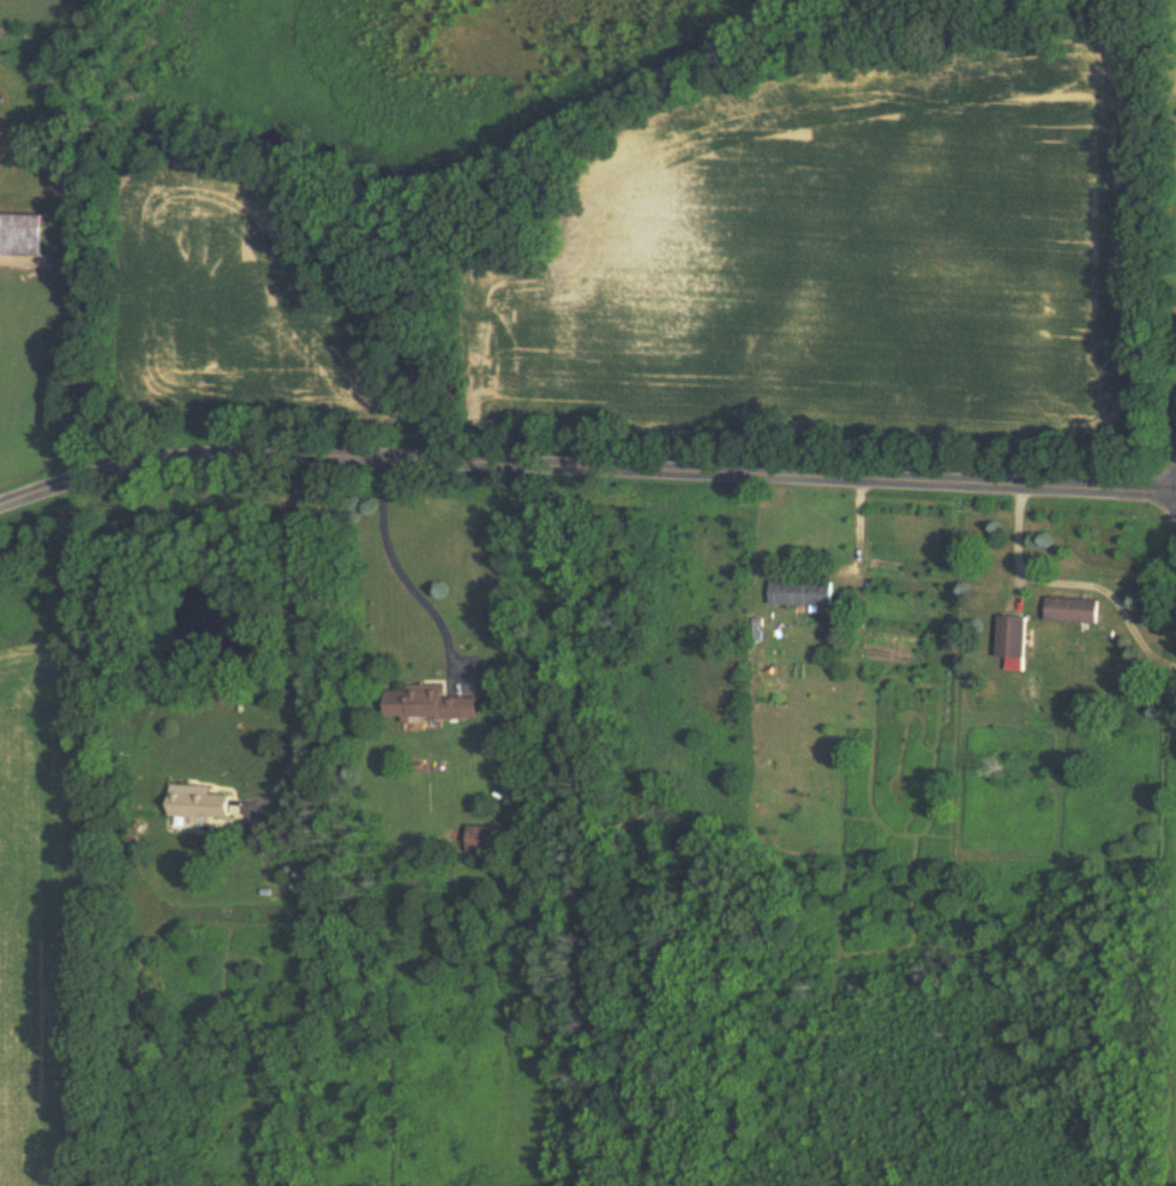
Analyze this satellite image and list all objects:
building: (22, 234)
road: (584, 468)
road: (404, 577)
road: (1072, 587)
building: (800, 592)
building: (1072, 610)
building: (1010, 641)
road: (304, 646)
building: (431, 702)
building: (197, 802)
building: (480, 838)

